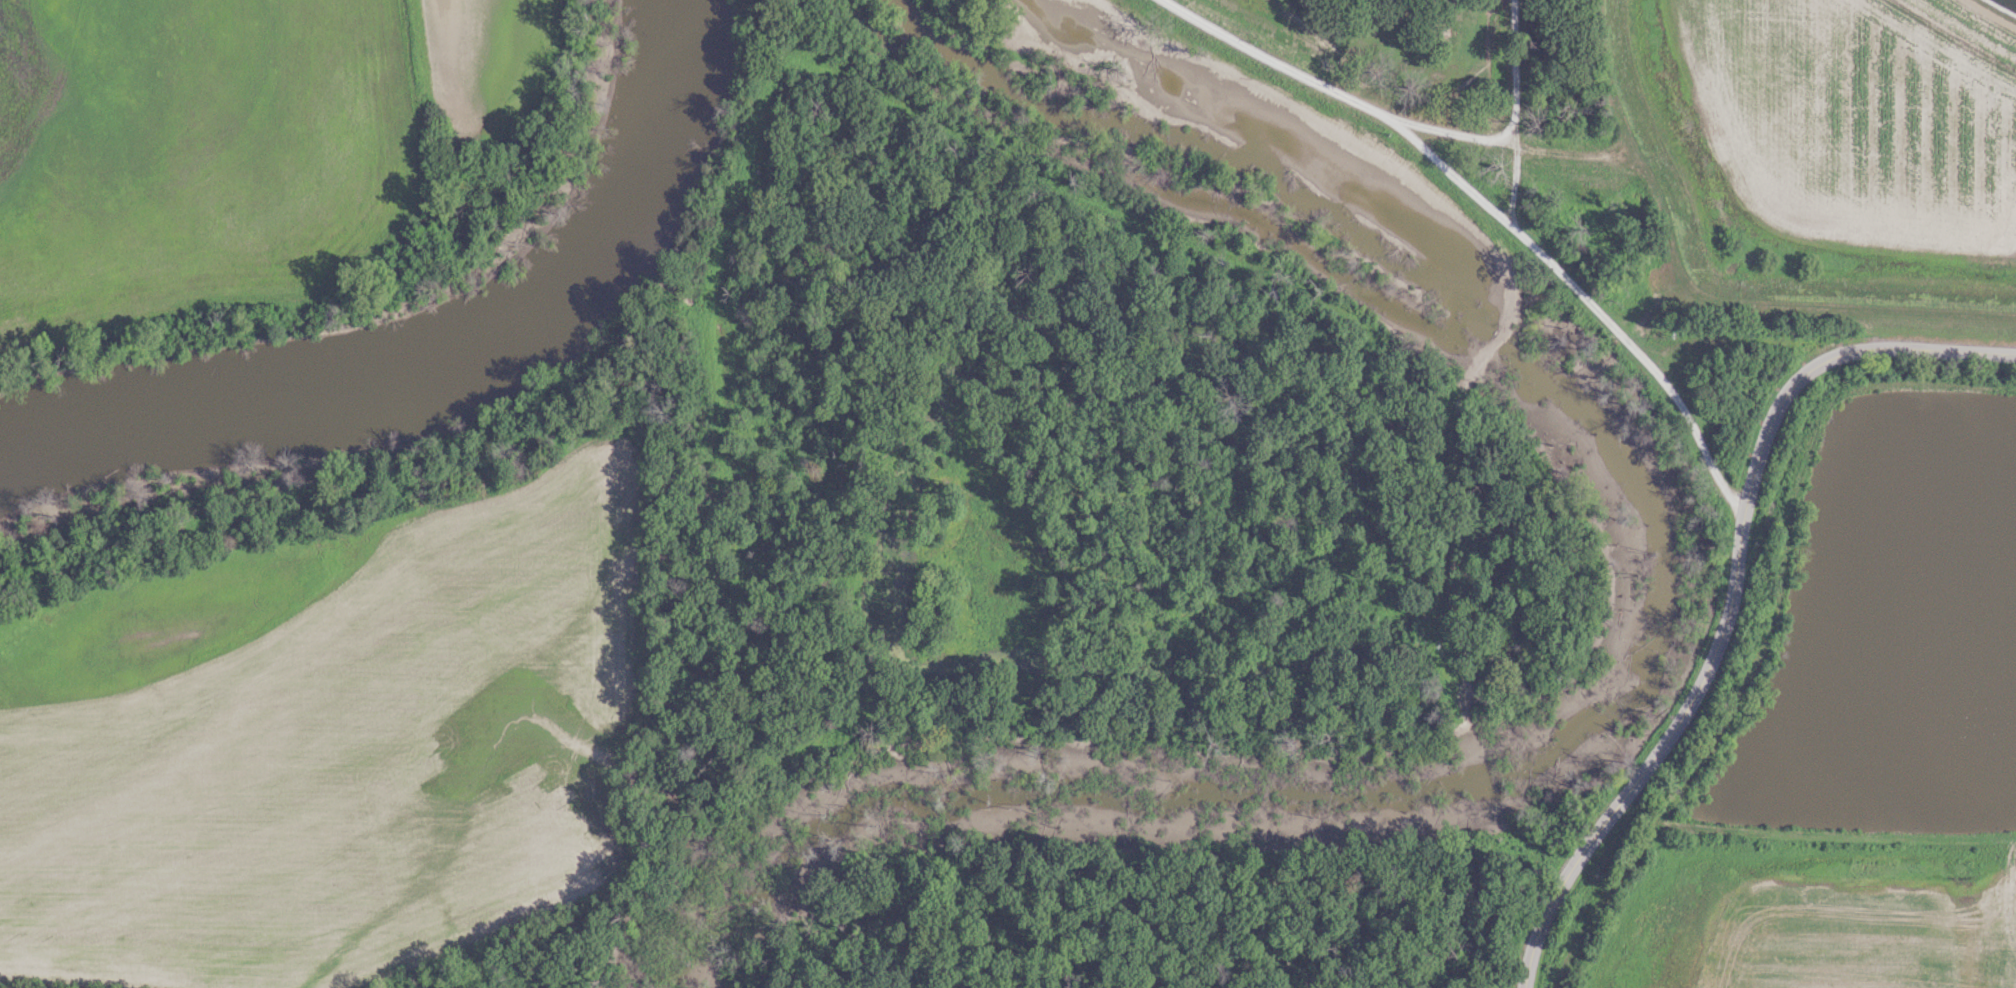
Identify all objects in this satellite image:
road: (1490, 220)
road: (1943, 350)
road: (1712, 662)

